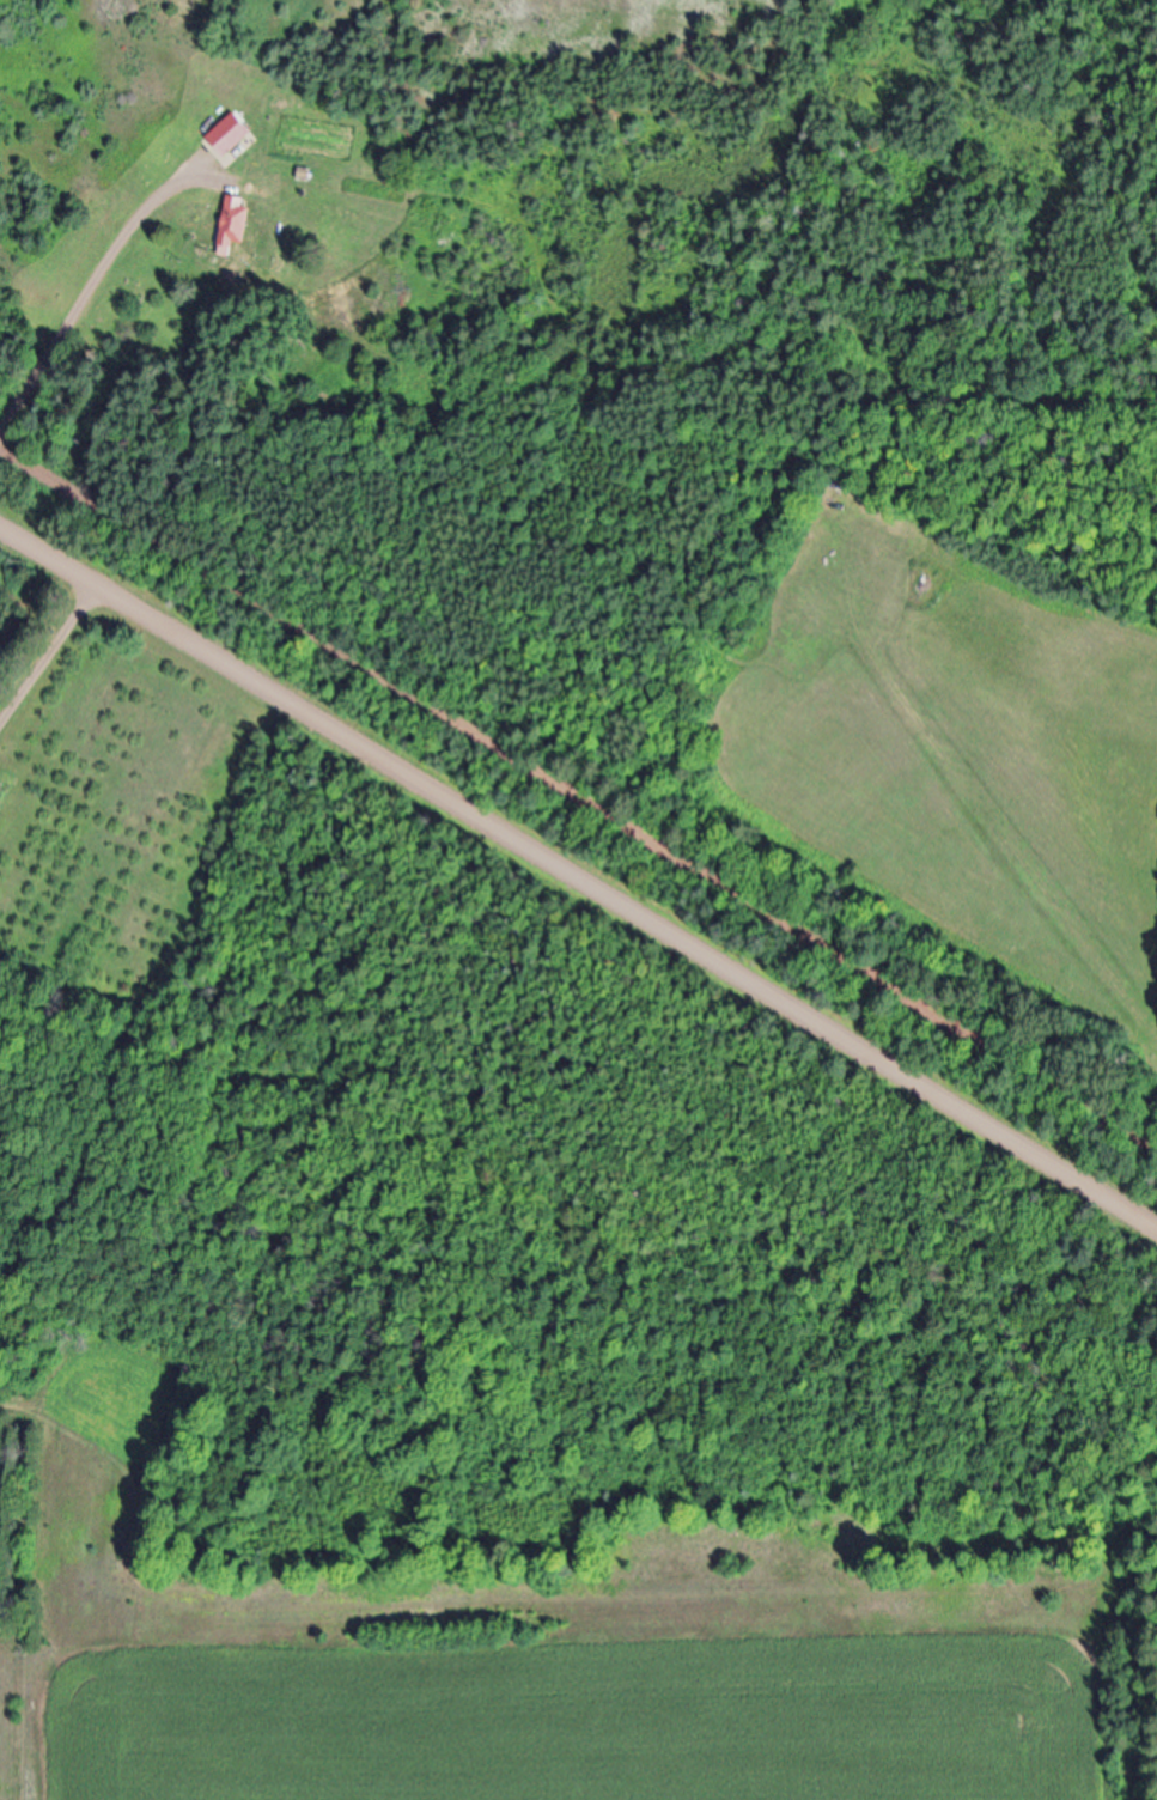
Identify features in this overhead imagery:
building: (233, 138)
building: (239, 223)
road: (103, 282)
road: (578, 798)
road: (578, 874)

